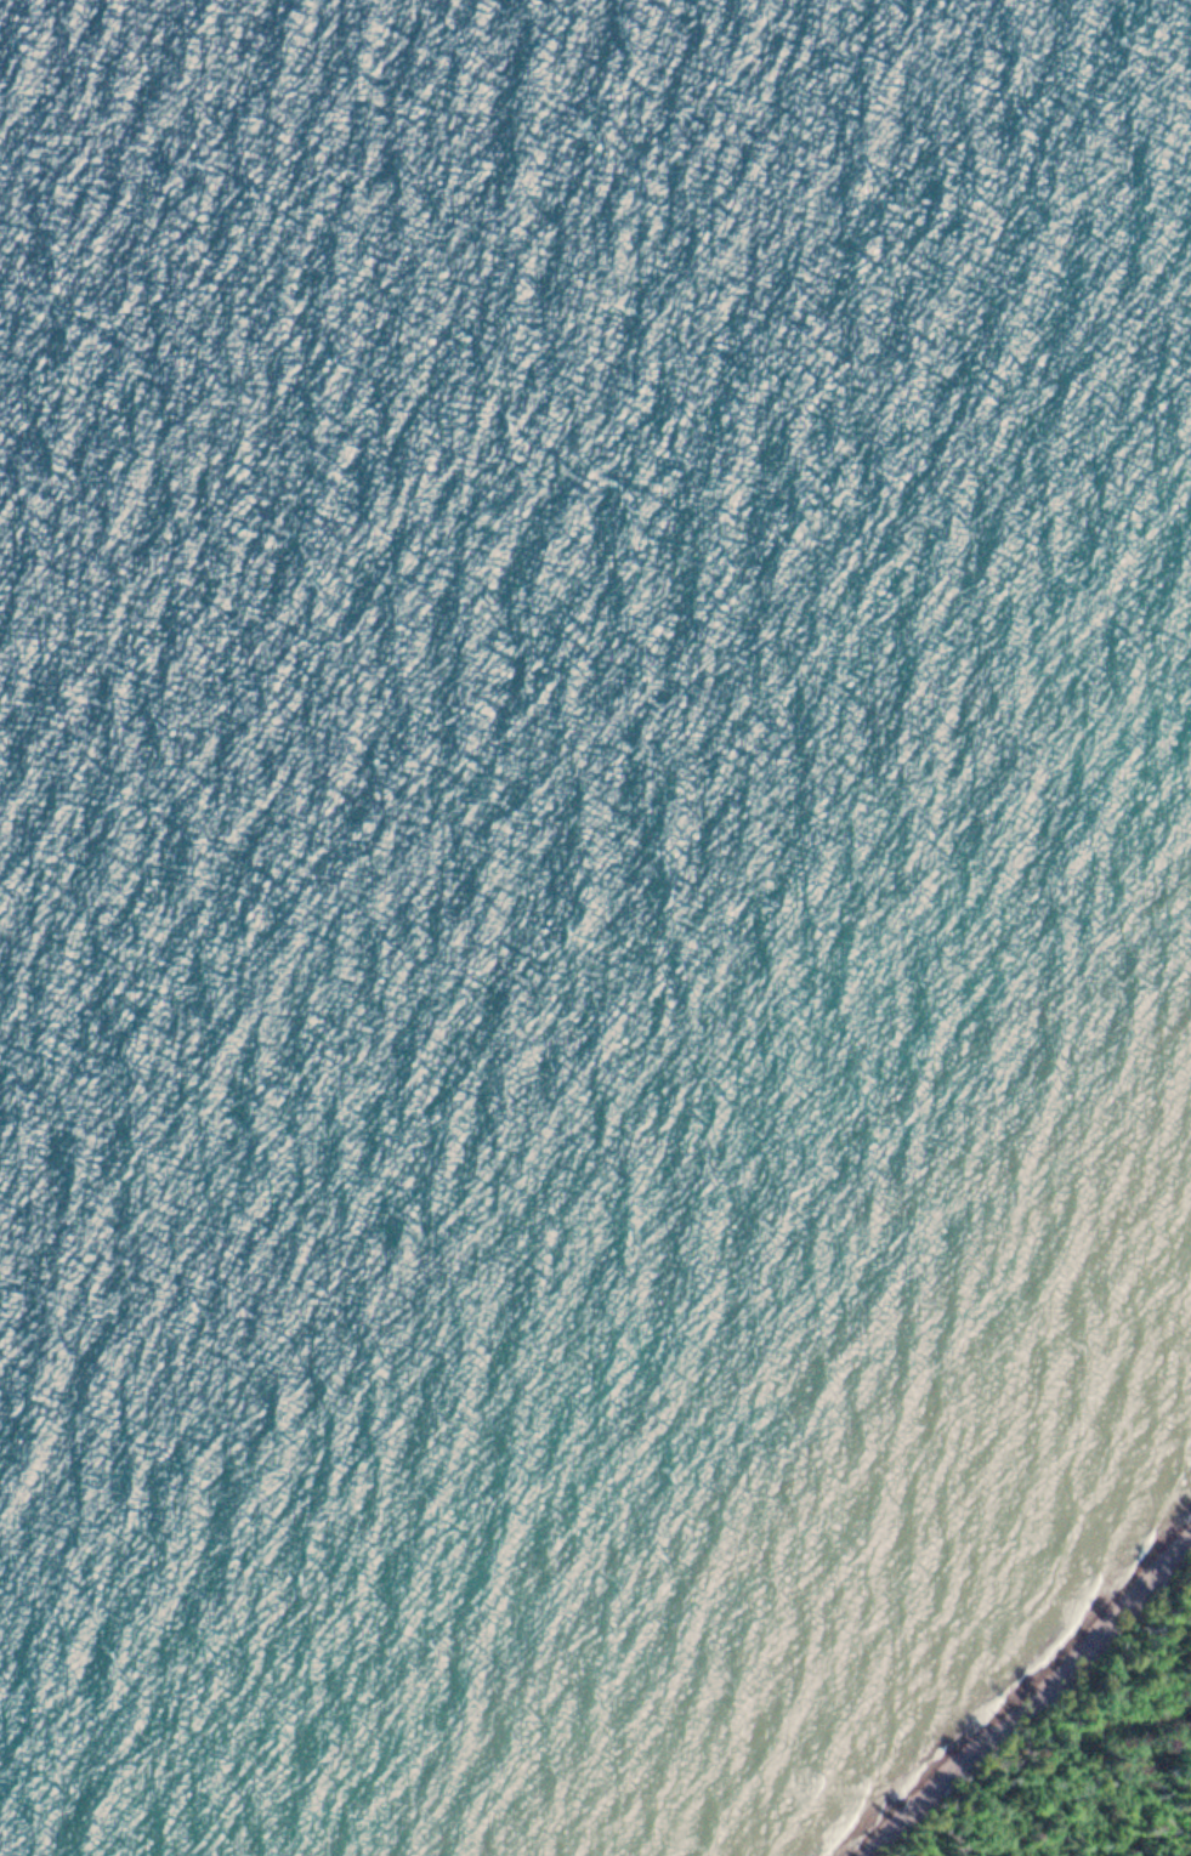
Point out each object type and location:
park: (1134, 1605)

